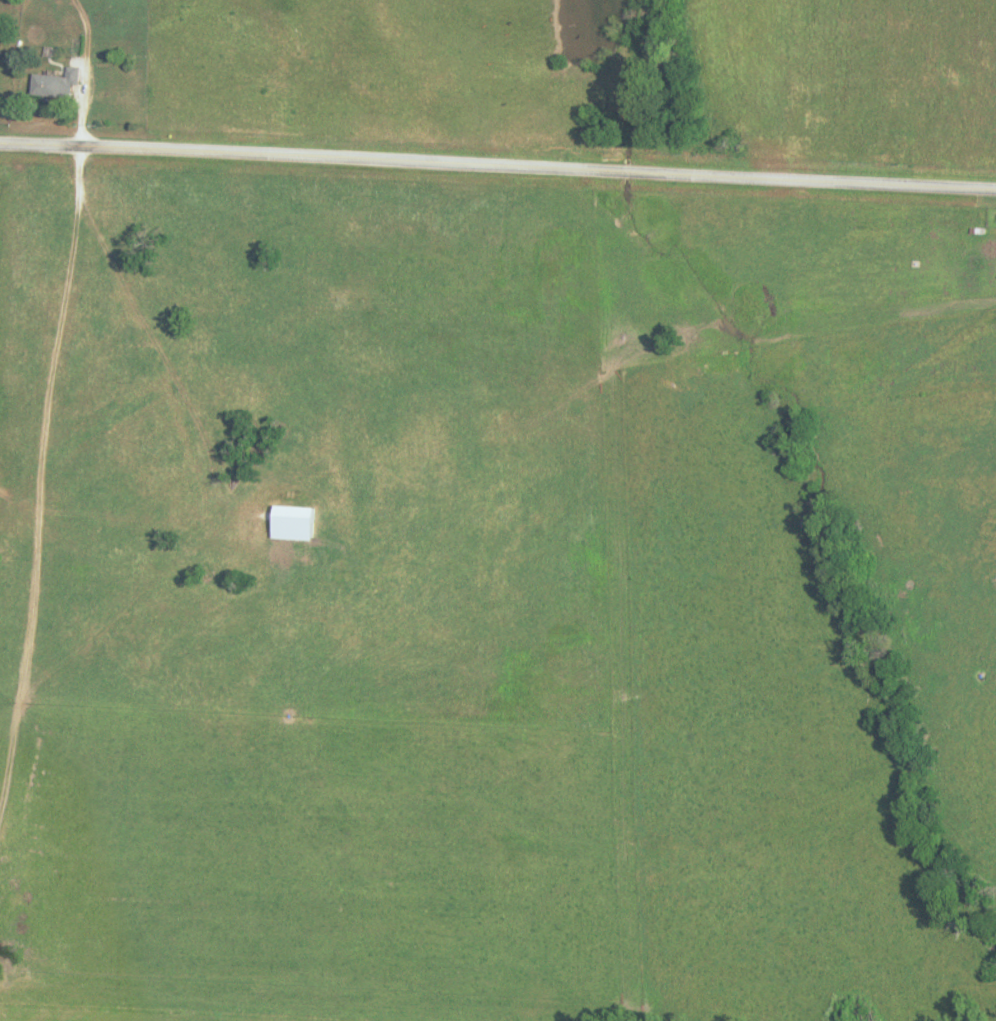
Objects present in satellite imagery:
building: (58, 83)
road: (498, 163)
building: (298, 522)

